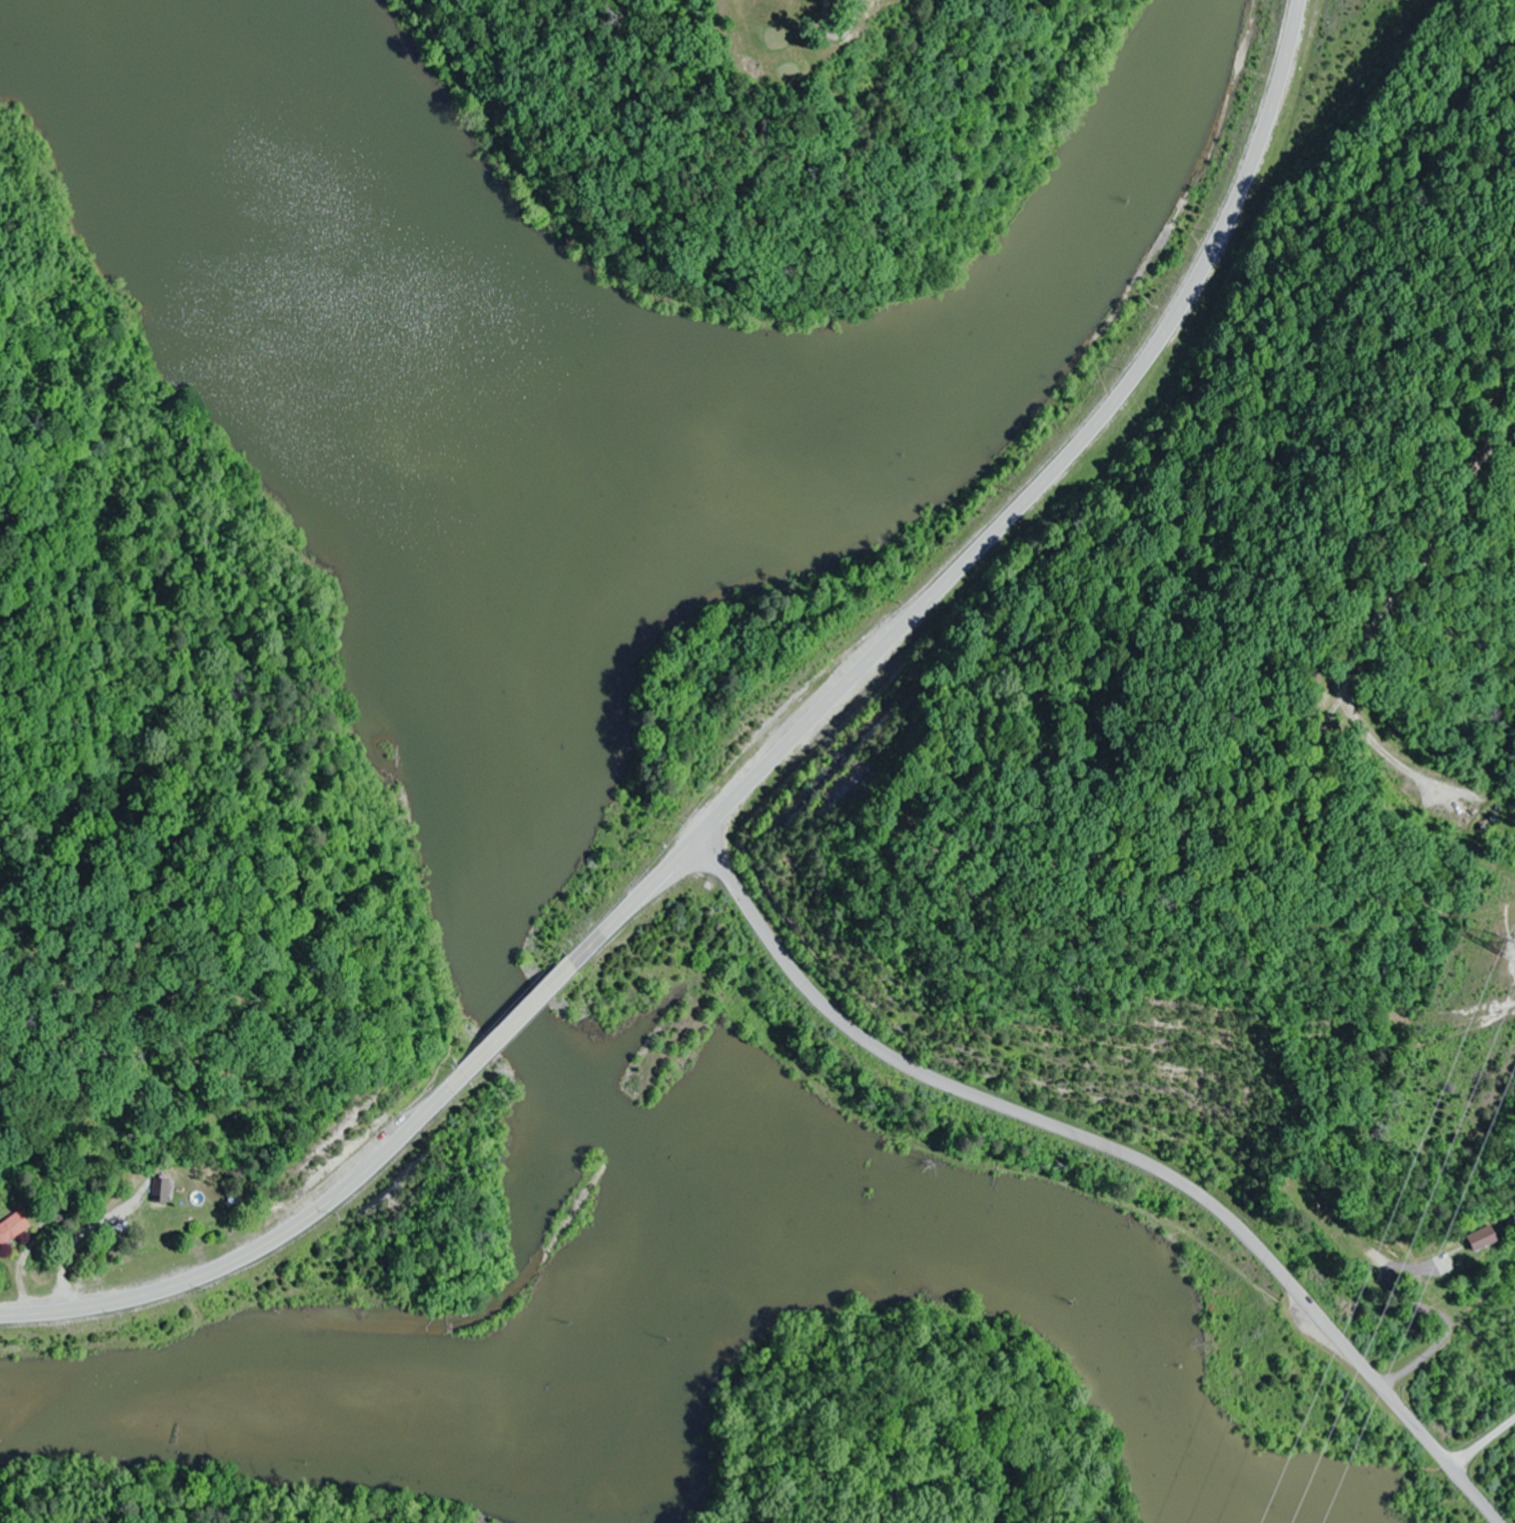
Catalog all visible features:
road: (848, 47)
park: (773, 133)
park: (773, 133)
river: (450, 383)
road: (1001, 524)
road: (519, 1017)
road: (1112, 1151)
building: (155, 1190)
building: (12, 1227)
building: (1483, 1238)
road: (260, 1247)
road: (1482, 1444)

